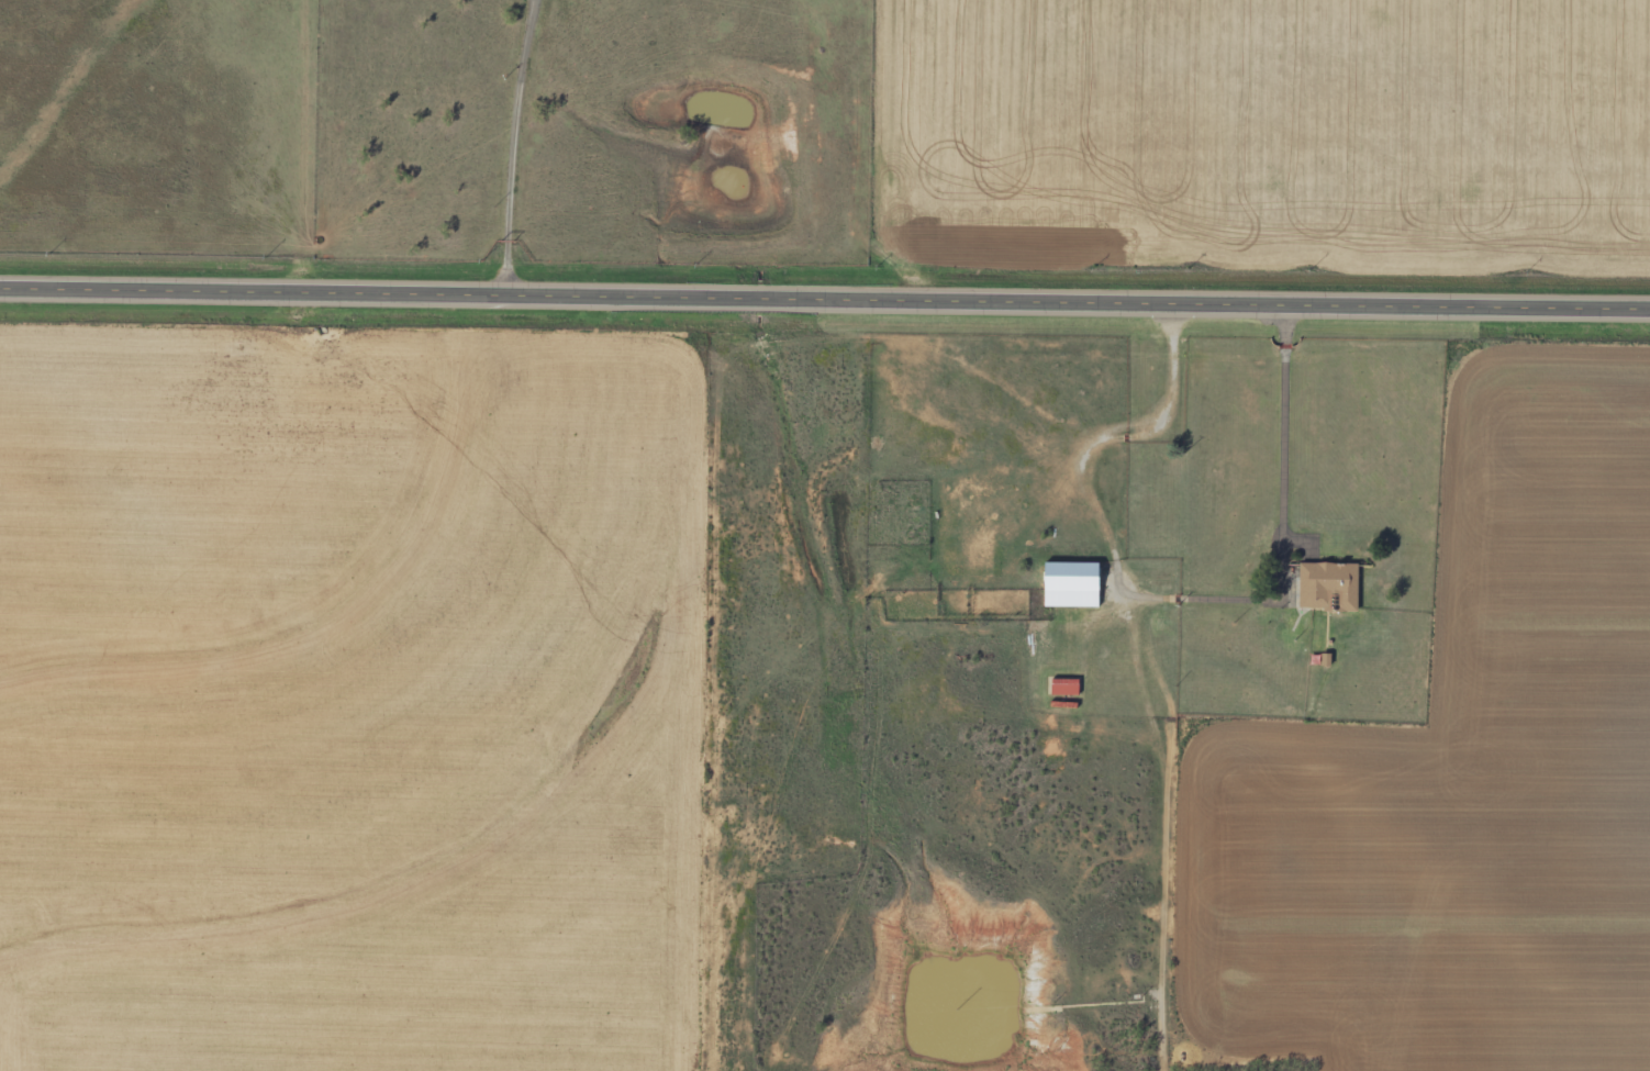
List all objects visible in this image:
road: (513, 144)
road: (824, 298)
building: (1068, 587)
building: (1327, 588)
road: (1142, 670)
building: (1062, 689)

